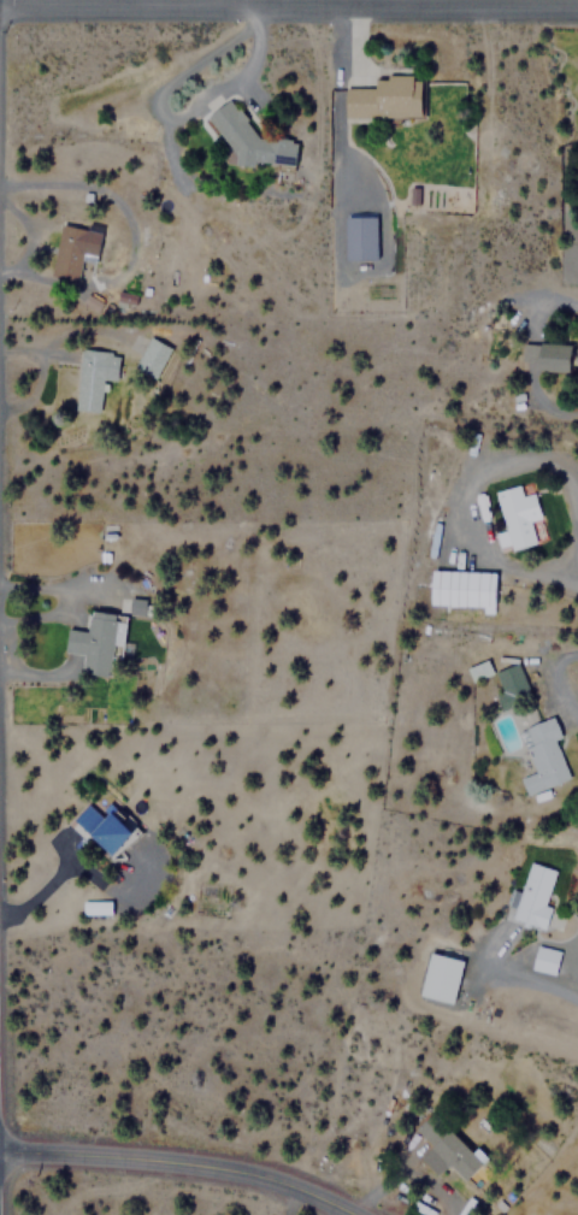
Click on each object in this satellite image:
road: (289, 6)
building: (385, 98)
building: (252, 134)
building: (364, 236)
building: (72, 248)
building: (151, 356)
building: (545, 356)
building: (93, 377)
building: (517, 514)
building: (462, 588)
building: (131, 603)
building: (98, 641)
building: (479, 670)
building: (509, 686)
building: (542, 756)
building: (104, 828)
building: (532, 896)
building: (99, 907)
building: (544, 960)
building: (440, 977)
road: (529, 977)
building: (448, 1145)
road: (176, 1164)

